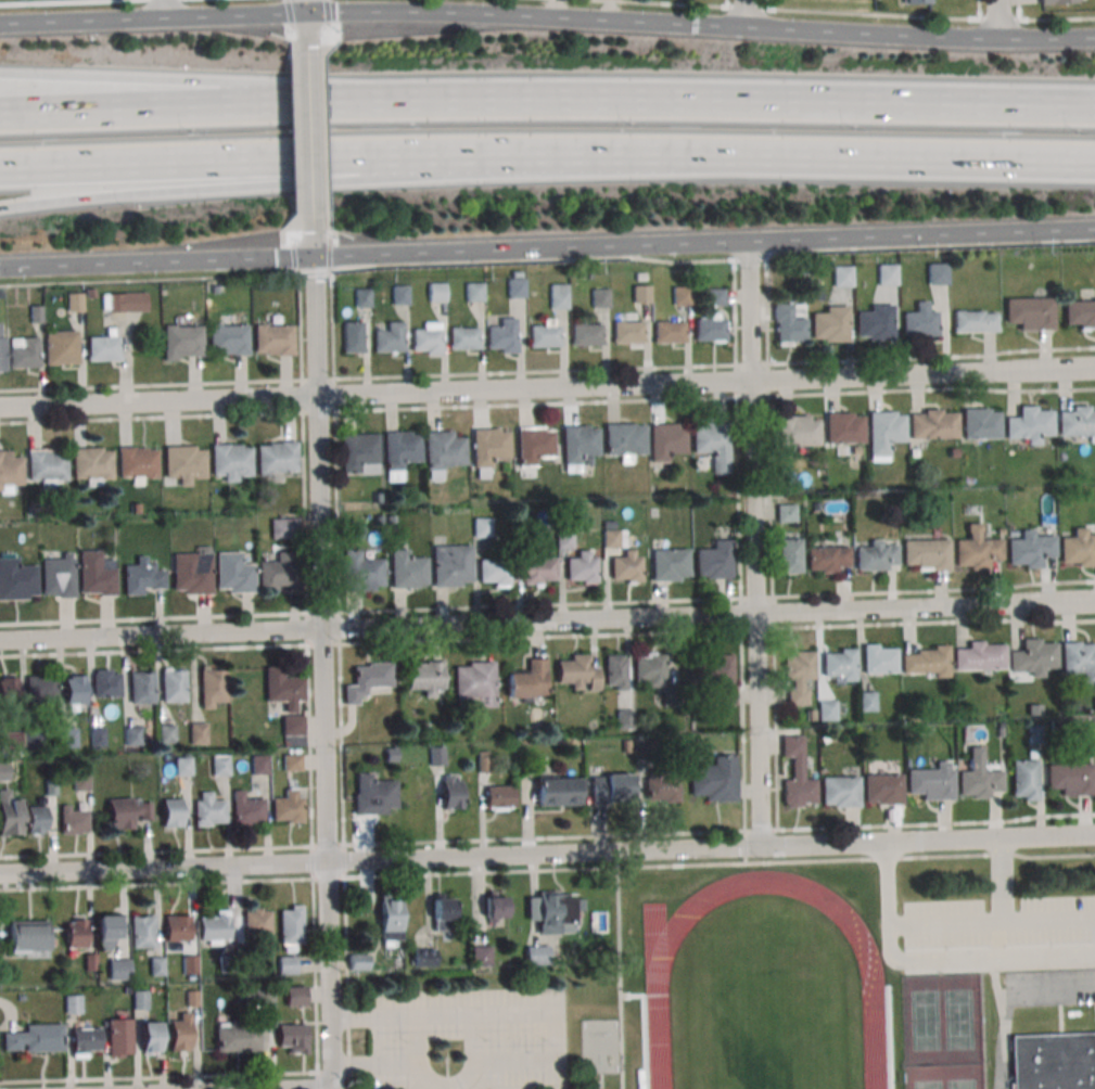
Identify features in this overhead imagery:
road: (54, 1)
building: (917, 1)
building: (1056, 1)
road: (726, 3)
road: (766, 4)
road: (305, 7)
road: (978, 9)
road: (1018, 9)
road: (167, 10)
road: (843, 11)
road: (328, 12)
road: (290, 14)
road: (744, 15)
road: (996, 17)
road: (153, 20)
road: (525, 21)
road: (306, 28)
road: (871, 34)
road: (1046, 36)
road: (323, 47)
road: (294, 50)
road: (123, 80)
road: (324, 100)
road: (296, 101)
road: (708, 102)
road: (282, 103)
road: (122, 107)
road: (307, 139)
road: (327, 149)
road: (297, 151)
road: (843, 156)
road: (295, 158)
road: (328, 181)
road: (295, 182)
road: (298, 183)
road: (329, 217)
road: (298, 219)
road: (922, 235)
road: (309, 246)
road: (530, 249)
road: (329, 257)
road: (294, 260)
road: (712, 261)
road: (154, 262)
building: (615, 269)
road: (311, 273)
building: (937, 273)
building: (887, 274)
building: (841, 276)
road: (147, 280)
building: (515, 284)
building: (215, 291)
building: (437, 292)
building: (474, 292)
building: (91, 293)
building: (641, 293)
building: (399, 295)
building: (682, 295)
building: (559, 296)
building: (714, 296)
building: (362, 297)
building: (600, 297)
building: (75, 302)
building: (124, 302)
building: (1029, 312)
building: (1080, 312)
building: (36, 315)
building: (919, 321)
building: (975, 321)
building: (875, 322)
building: (789, 323)
building: (831, 323)
building: (710, 326)
building: (627, 331)
building: (669, 331)
building: (545, 332)
building: (586, 333)
building: (352, 336)
building: (502, 336)
building: (390, 337)
building: (426, 337)
building: (463, 337)
building: (228, 338)
building: (273, 338)
building: (182, 342)
building: (2, 346)
building: (103, 346)
building: (61, 347)
building: (24, 351)
road: (547, 372)
road: (547, 395)
road: (547, 403)
building: (1077, 421)
building: (979, 424)
building: (1029, 424)
building: (932, 425)
building: (844, 427)
building: (799, 431)
building: (884, 431)
building: (624, 439)
building: (667, 440)
building: (534, 445)
building: (713, 446)
building: (578, 447)
building: (489, 449)
building: (444, 451)
building: (359, 453)
building: (399, 453)
building: (953, 453)
building: (277, 456)
building: (231, 461)
building: (589, 461)
building: (137, 462)
building: (184, 462)
building: (92, 464)
building: (48, 465)
building: (10, 471)
building: (375, 498)
building: (816, 505)
building: (135, 509)
building: (787, 512)
building: (378, 521)
building: (391, 521)
building: (609, 525)
building: (482, 526)
building: (284, 529)
building: (999, 531)
building: (610, 537)
building: (564, 539)
road: (771, 542)
road: (739, 546)
road: (753, 547)
building: (1029, 548)
building: (1078, 548)
building: (976, 549)
building: (926, 554)
building: (790, 555)
building: (875, 556)
road: (338, 559)
building: (828, 559)
building: (715, 560)
road: (305, 561)
building: (451, 564)
building: (671, 564)
building: (535, 567)
building: (582, 567)
building: (625, 568)
building: (407, 569)
building: (361, 571)
building: (494, 572)
building: (97, 573)
building: (191, 573)
building: (234, 573)
building: (276, 574)
building: (58, 576)
building: (142, 577)
building: (17, 580)
road: (547, 605)
road: (547, 626)
road: (547, 637)
building: (979, 657)
building: (1032, 657)
building: (878, 659)
building: (1079, 659)
building: (927, 663)
building: (840, 665)
building: (651, 668)
building: (577, 671)
building: (615, 671)
road: (320, 672)
building: (799, 675)
building: (714, 676)
building: (426, 678)
building: (529, 679)
building: (367, 680)
building: (105, 682)
building: (474, 682)
building: (173, 684)
building: (41, 687)
building: (141, 687)
building: (213, 687)
building: (75, 690)
building: (9, 692)
building: (284, 696)
building: (673, 696)
building: (867, 701)
building: (827, 710)
building: (1034, 710)
building: (810, 715)
building: (625, 719)
building: (1055, 723)
building: (999, 730)
building: (167, 732)
building: (198, 732)
building: (1035, 733)
building: (133, 736)
building: (97, 738)
building: (33, 739)
building: (68, 739)
building: (11, 742)
building: (625, 746)
building: (645, 750)
building: (391, 756)
building: (437, 757)
building: (291, 761)
building: (483, 763)
building: (219, 765)
building: (182, 766)
building: (259, 766)
building: (3, 772)
building: (797, 774)
building: (979, 778)
building: (1070, 778)
building: (715, 780)
building: (1023, 780)
building: (80, 781)
building: (932, 782)
building: (50, 787)
building: (611, 787)
building: (882, 789)
building: (662, 790)
building: (840, 791)
building: (451, 792)
building: (558, 792)
building: (373, 794)
building: (499, 796)
building: (288, 806)
building: (207, 809)
building: (246, 809)
building: (127, 811)
building: (171, 812)
building: (9, 813)
building: (35, 819)
building: (73, 820)
road: (937, 824)
road: (761, 830)
road: (545, 838)
road: (328, 845)
road: (746, 847)
road: (156, 851)
road: (547, 860)
road: (344, 861)
road: (313, 862)
road: (720, 863)
road: (329, 877)
road: (156, 884)
road: (1002, 884)
road: (887, 887)
building: (495, 907)
building: (552, 910)
building: (443, 915)
building: (256, 921)
building: (391, 921)
parking lot: (997, 921)
building: (598, 922)
road: (991, 924)
building: (214, 926)
building: (291, 926)
building: (177, 927)
building: (141, 931)
building: (75, 932)
building: (107, 932)
building: (27, 936)
building: (242, 955)
building: (537, 955)
road: (979, 955)
building: (481, 956)
building: (423, 957)
building: (358, 961)
building: (90, 962)
building: (226, 964)
building: (285, 964)
building: (189, 965)
building: (117, 968)
building: (156, 968)
road: (315, 977)
road: (622, 978)
road: (346, 983)
track: (765, 995)
building: (257, 996)
building: (295, 996)
building: (22, 998)
building: (139, 999)
building: (191, 999)
building: (73, 1003)
park: (941, 1017)
road: (1002, 1021)
park: (766, 1029)
building: (179, 1035)
building: (291, 1036)
road: (473, 1036)
building: (118, 1037)
building: (150, 1037)
building: (237, 1037)
building: (34, 1038)
road: (418, 1038)
building: (85, 1040)
road: (560, 1052)
building: (1053, 1061)
road: (561, 1066)
park: (944, 1076)
road: (158, 1077)
road: (318, 1082)

